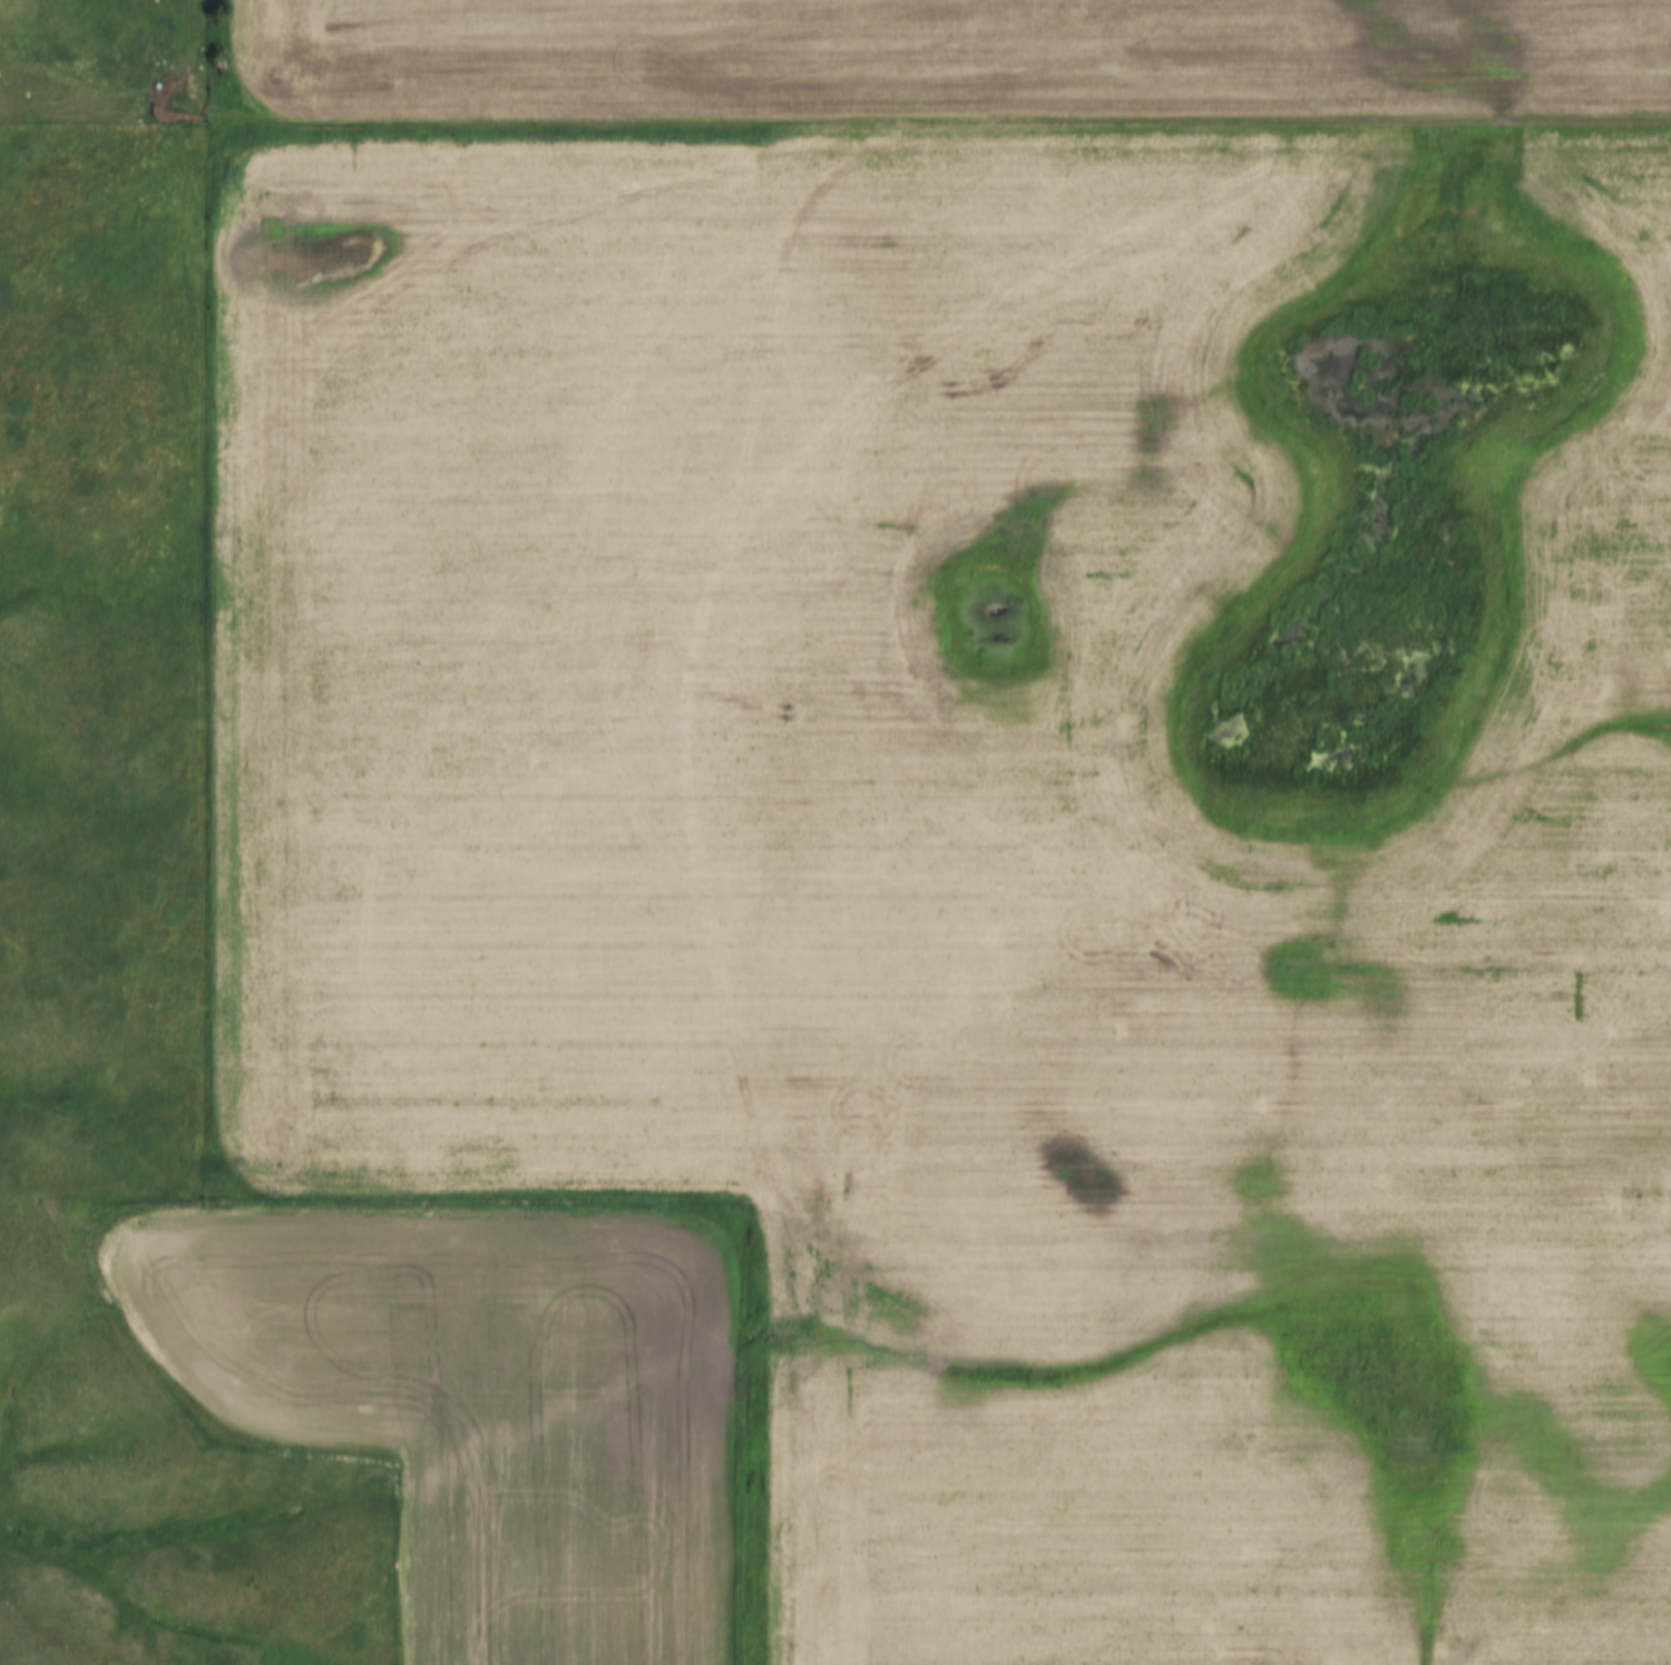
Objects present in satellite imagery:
road: (834, 115)
road: (23, 134)

